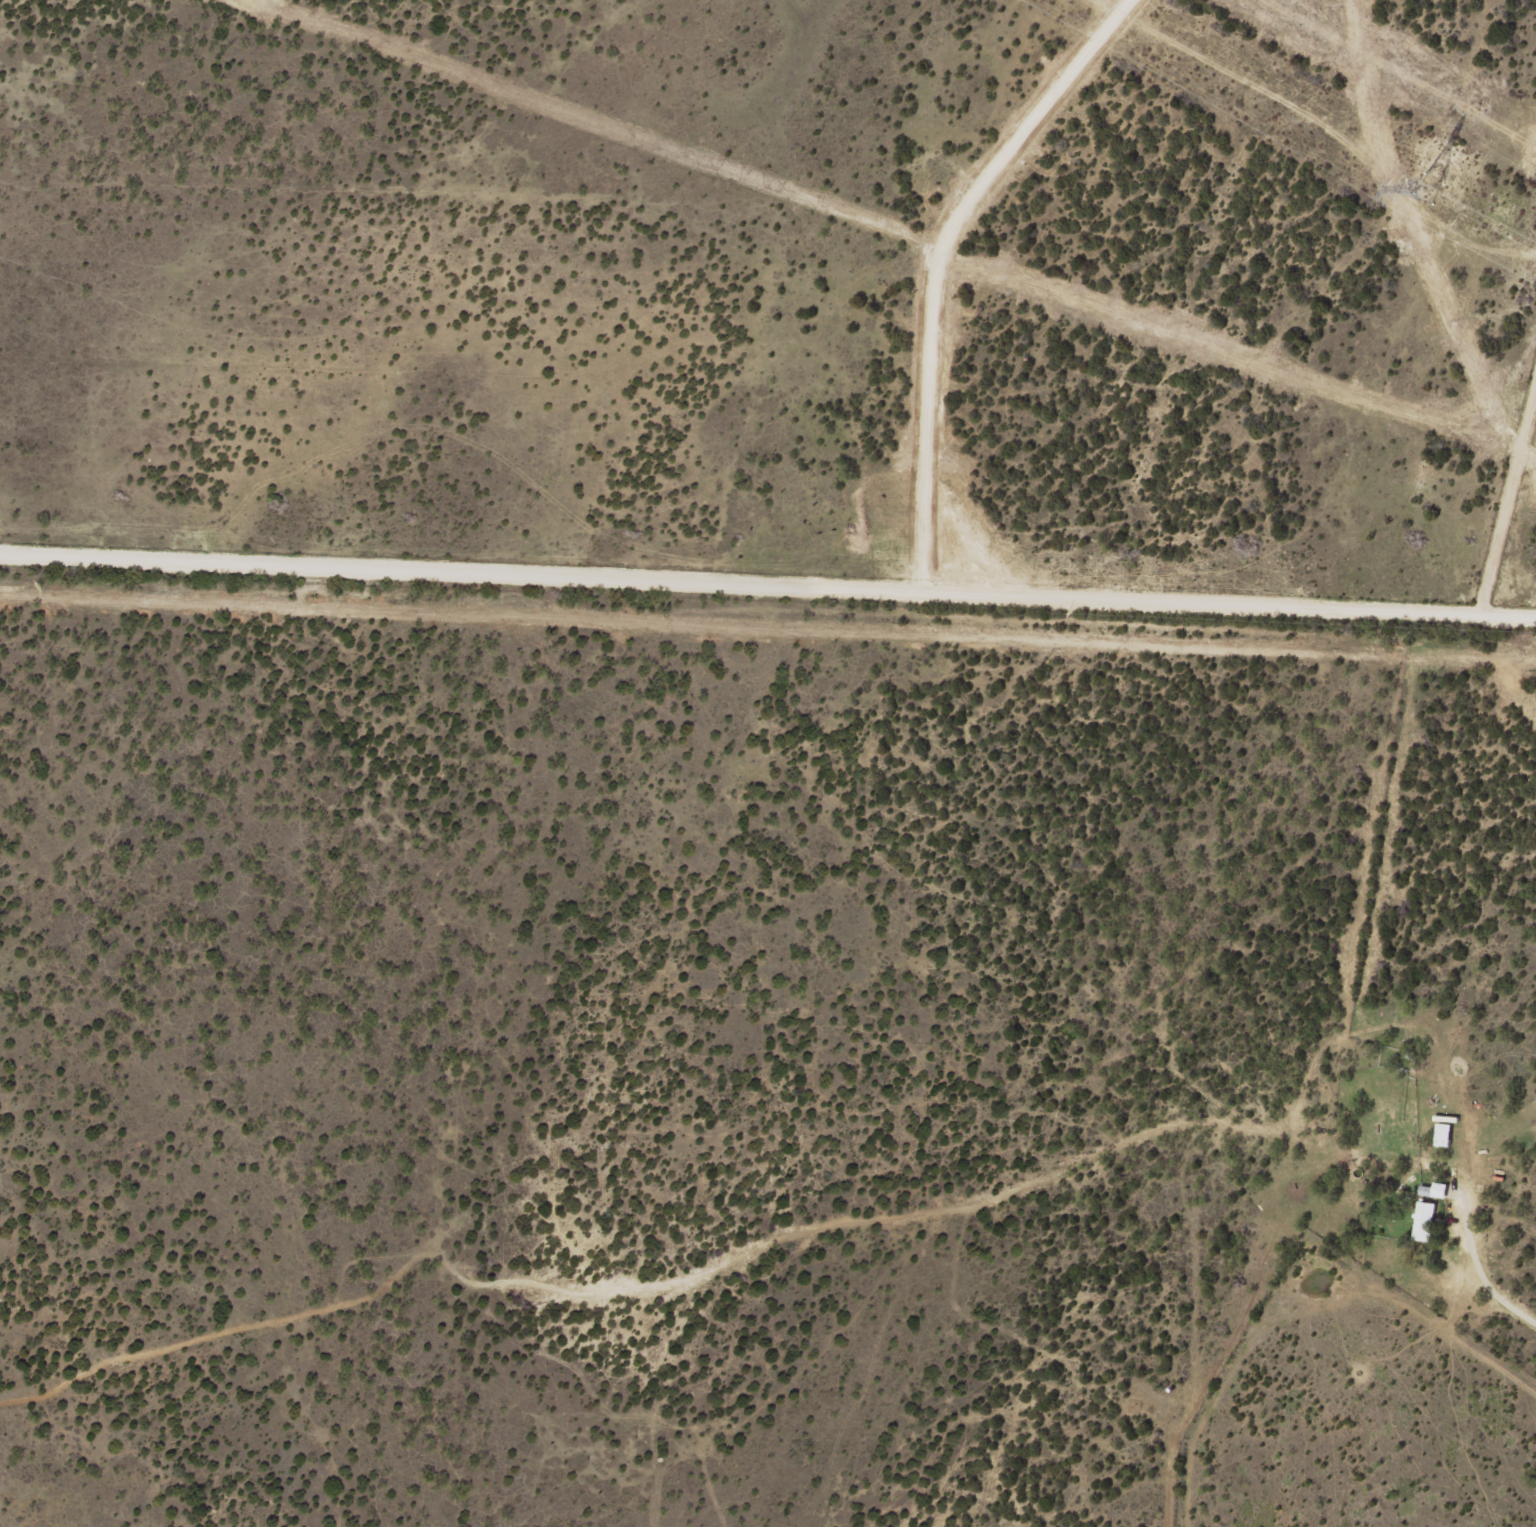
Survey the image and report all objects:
power tower: (1422, 187)
road: (1529, 559)
road: (768, 583)
building: (1423, 1221)
road: (1533, 1308)

